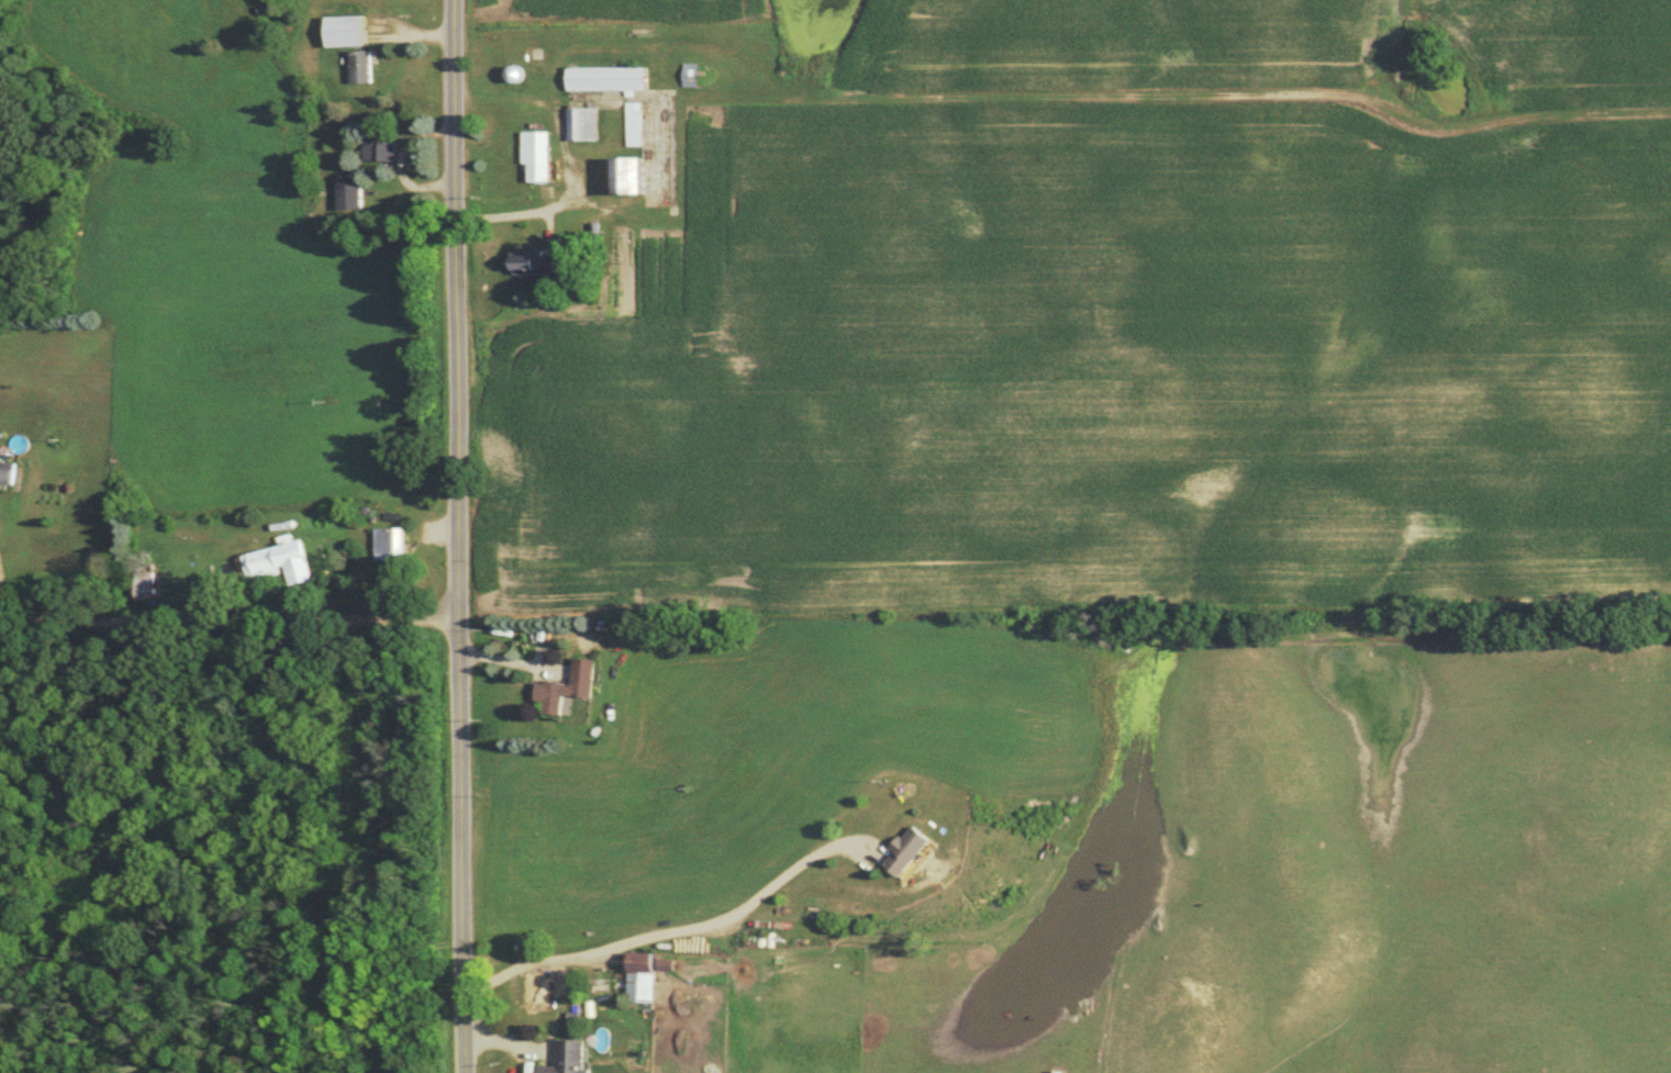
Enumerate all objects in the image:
building: (347, 32)
building: (365, 69)
building: (517, 75)
building: (610, 80)
building: (584, 125)
building: (636, 125)
building: (382, 153)
building: (538, 156)
building: (630, 177)
building: (352, 195)
road: (519, 214)
building: (535, 264)
building: (8, 471)
road: (436, 529)
road: (460, 536)
building: (393, 546)
building: (281, 562)
building: (147, 588)
road: (231, 619)
road: (878, 624)
road: (511, 659)
building: (568, 688)
building: (906, 851)
road: (996, 927)
road: (678, 932)
building: (647, 974)
road: (505, 1040)
building: (568, 1059)

